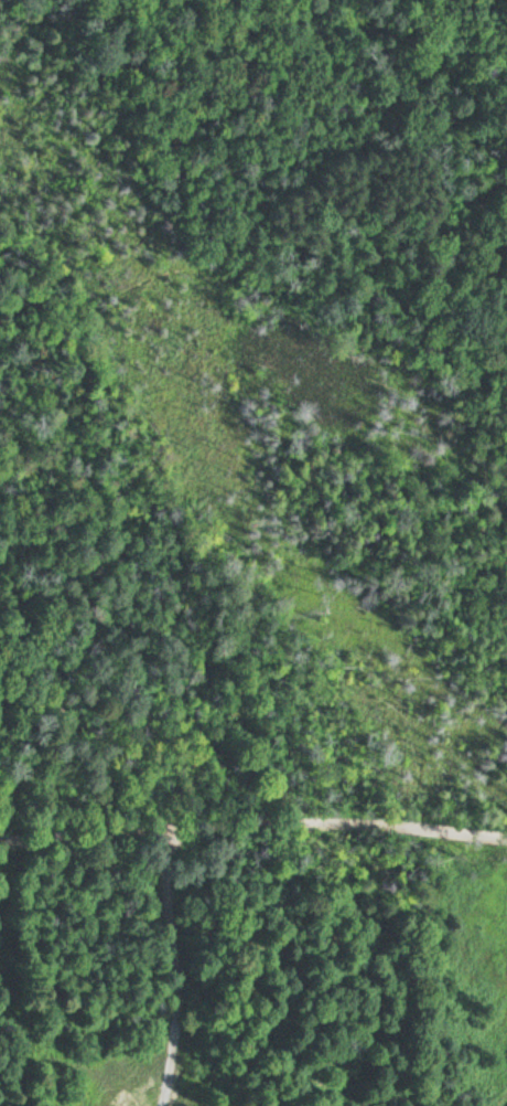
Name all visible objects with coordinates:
road: (253, 825)

